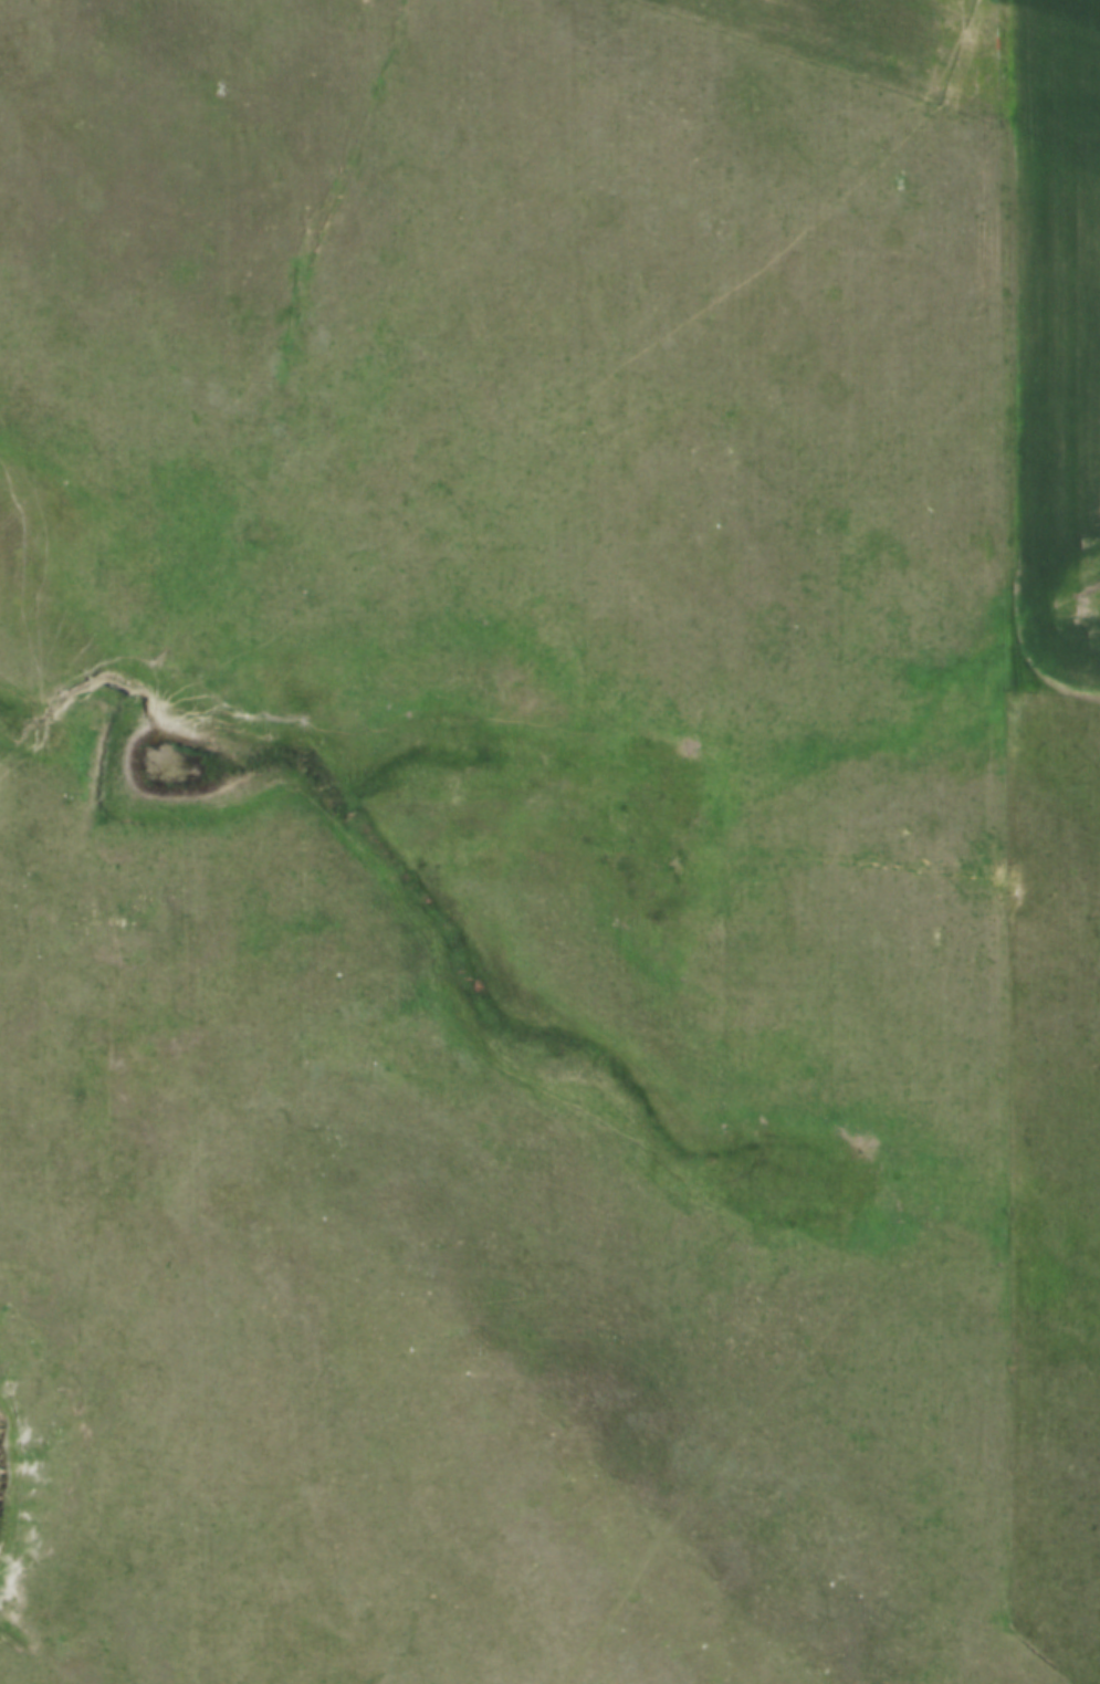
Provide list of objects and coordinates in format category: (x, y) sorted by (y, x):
road: (1016, 339)

